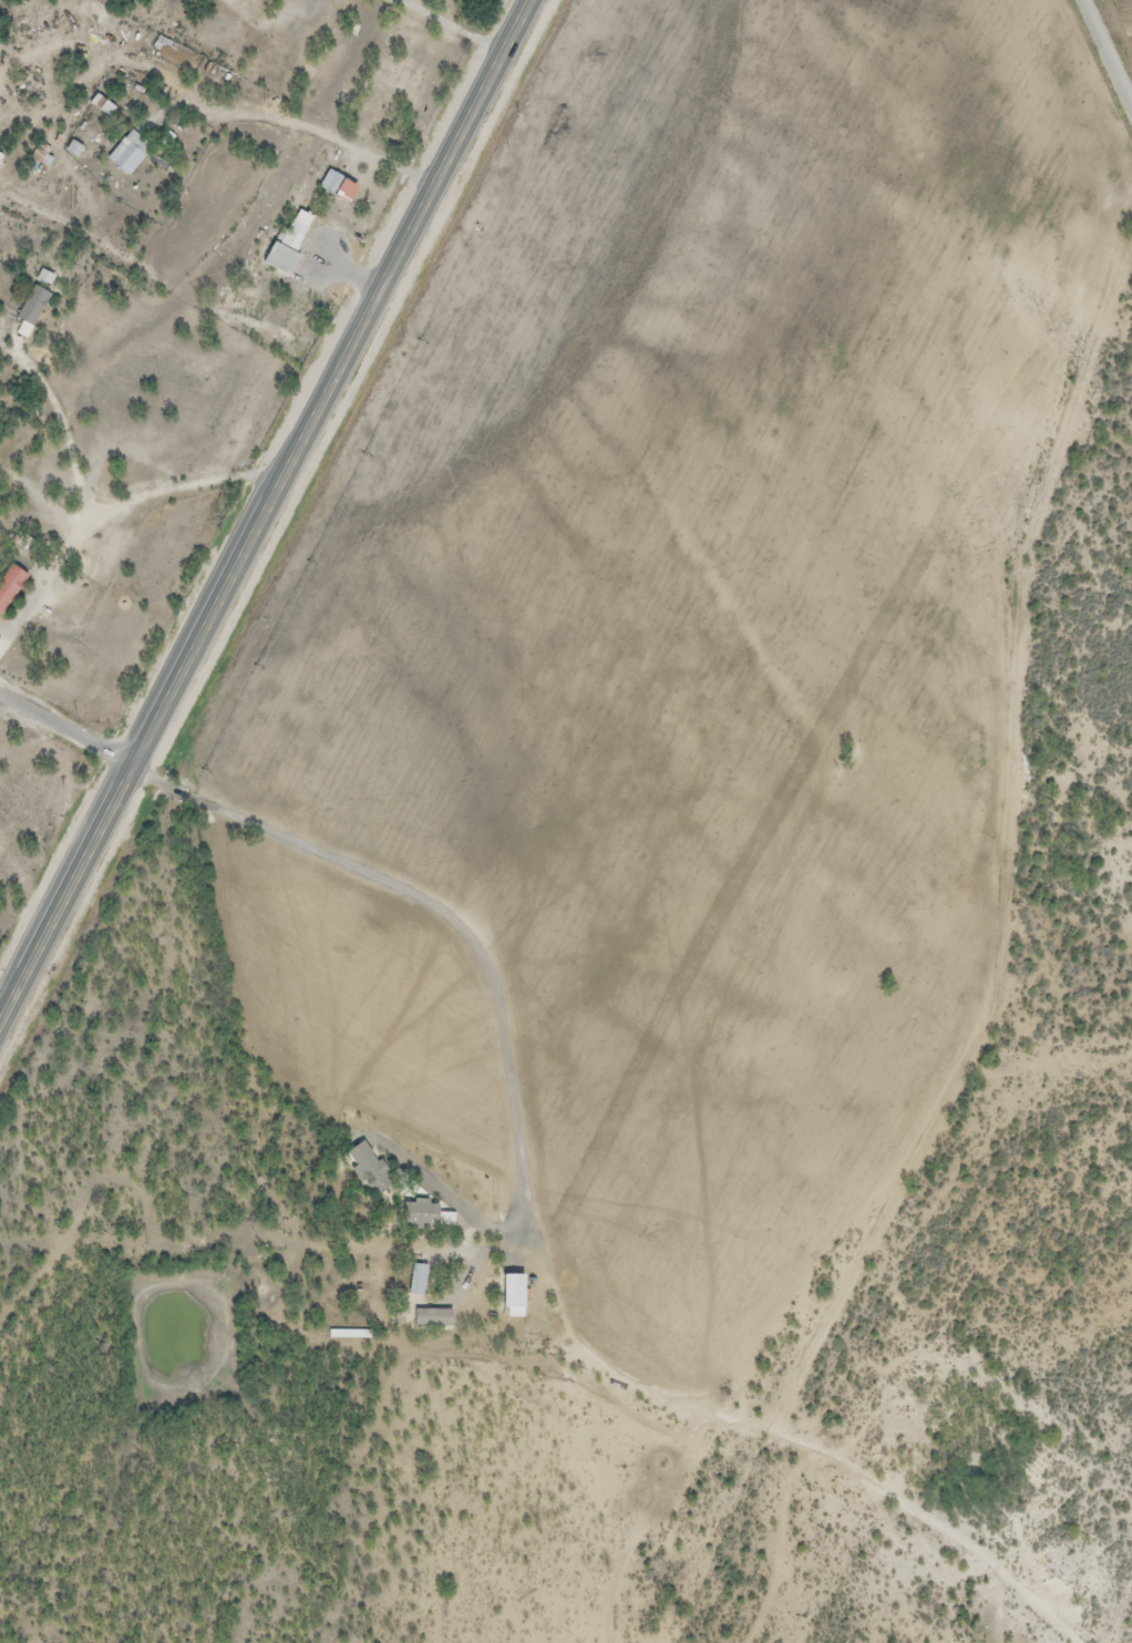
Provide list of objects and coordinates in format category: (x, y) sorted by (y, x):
road: (1110, 48)
building: (72, 150)
building: (127, 154)
building: (0, 157)
building: (336, 187)
building: (288, 243)
building: (0, 268)
building: (31, 307)
road: (265, 511)
building: (9, 586)
road: (65, 731)
road: (466, 1122)
building: (416, 1281)
building: (432, 1318)

